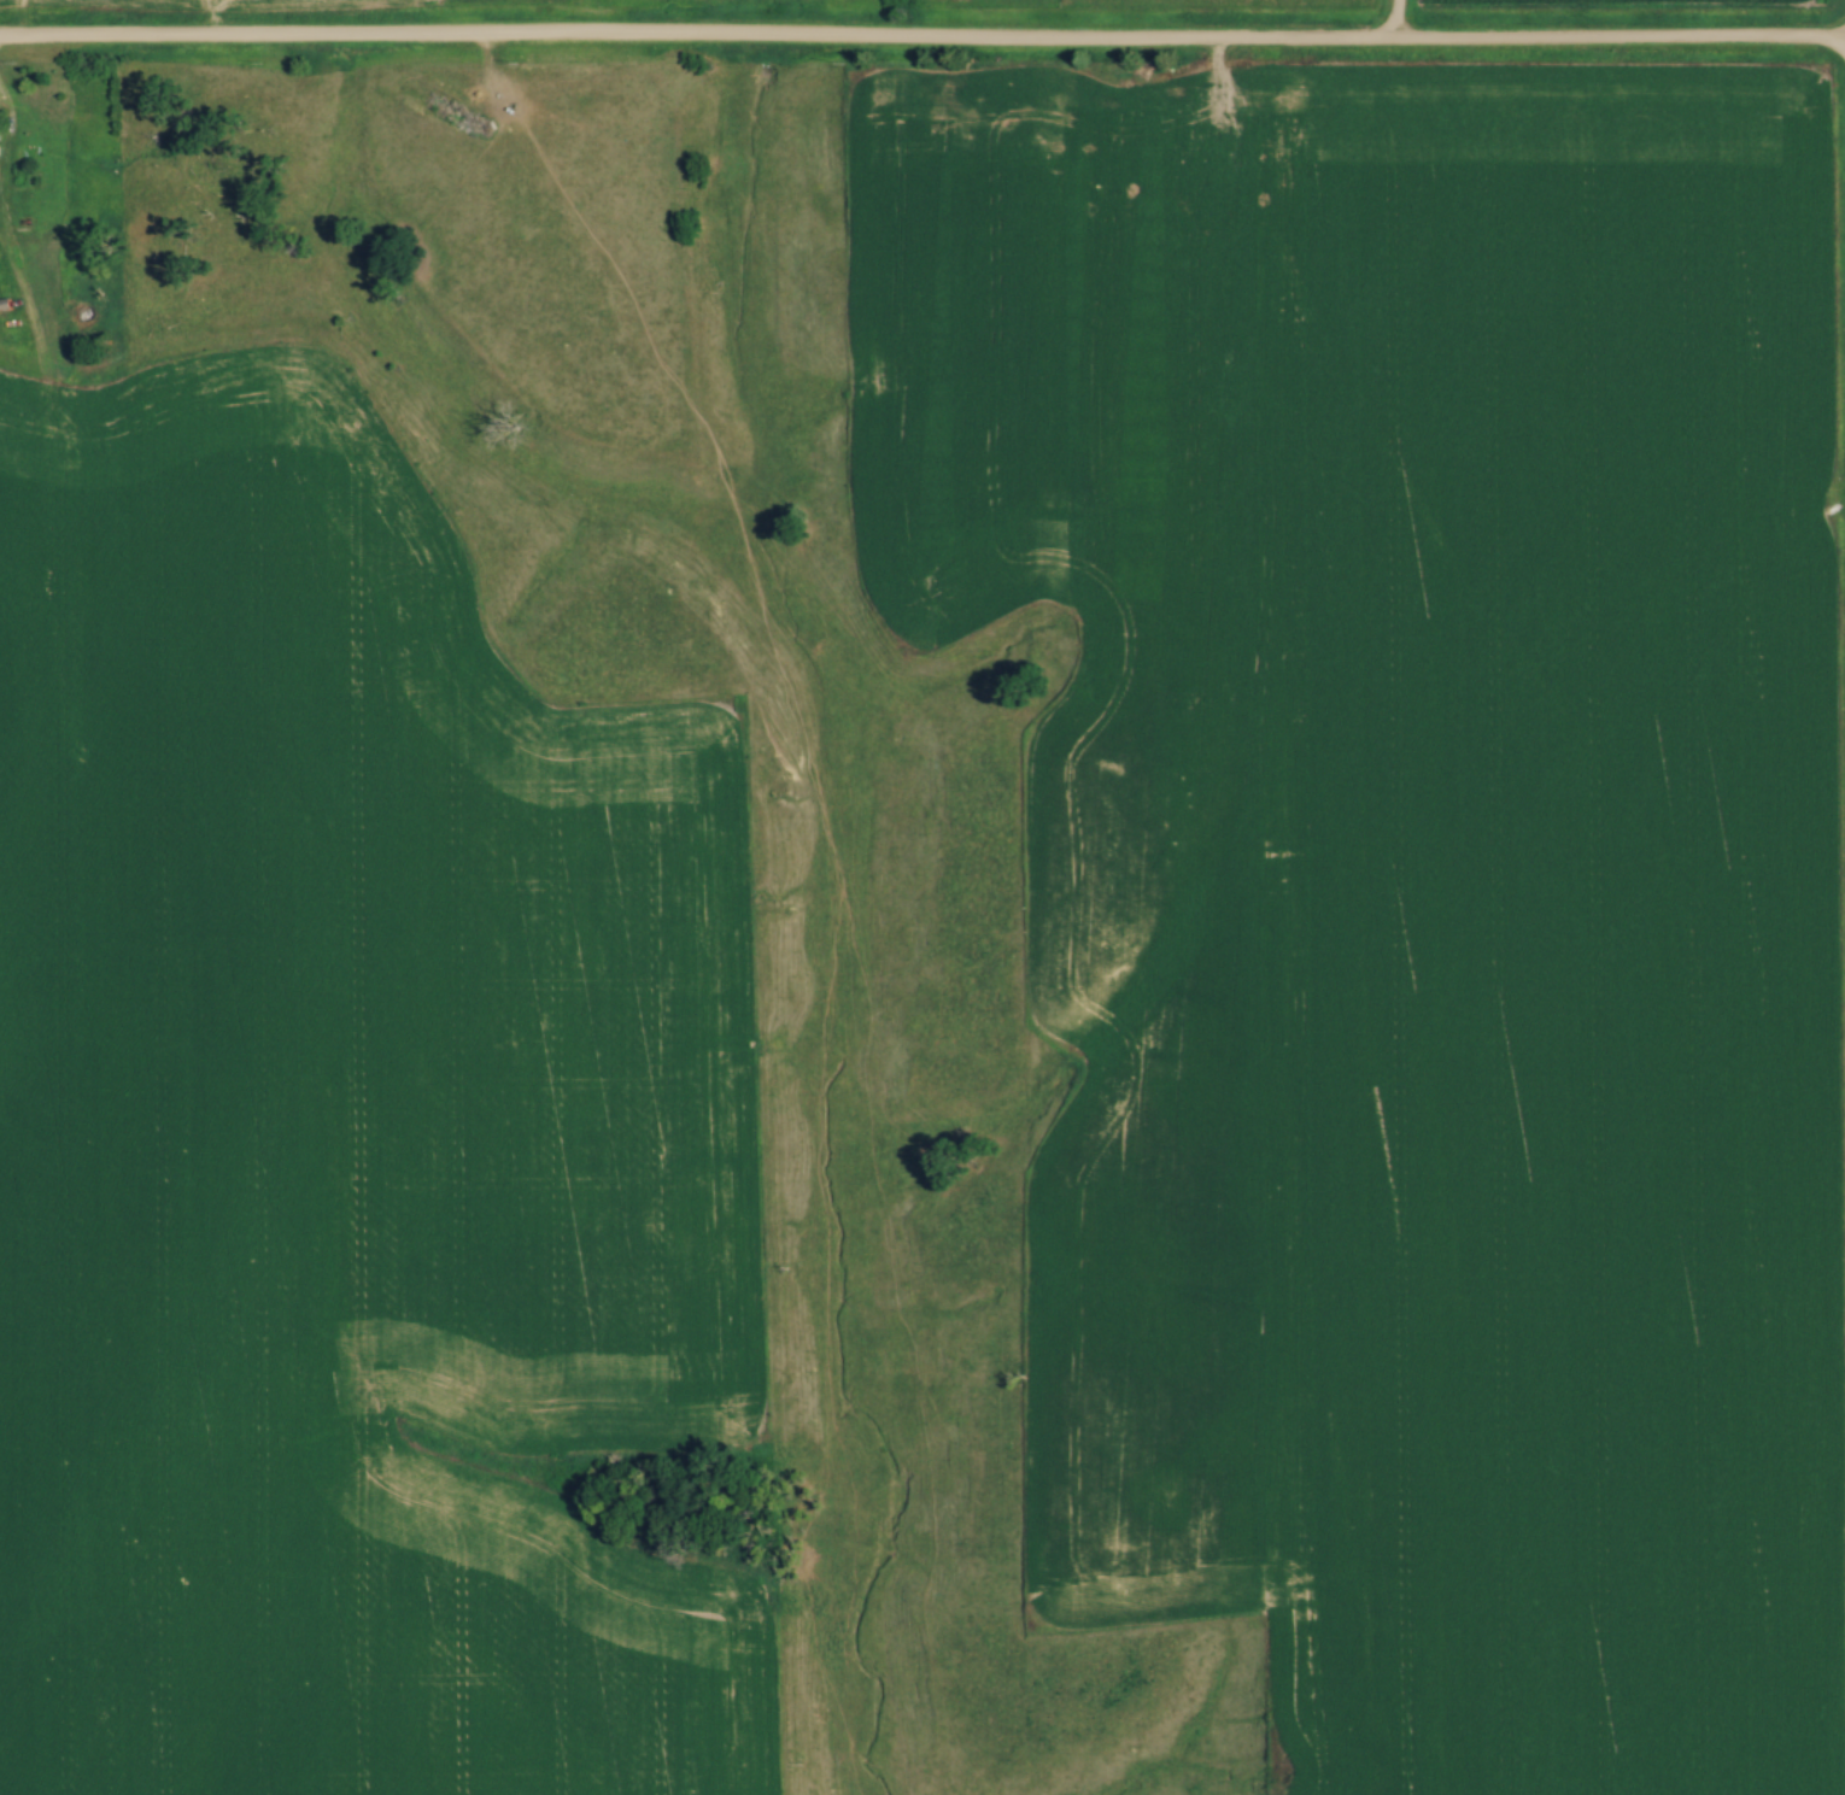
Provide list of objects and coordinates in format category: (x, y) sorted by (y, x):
road: (1394, 19)
road: (921, 40)

